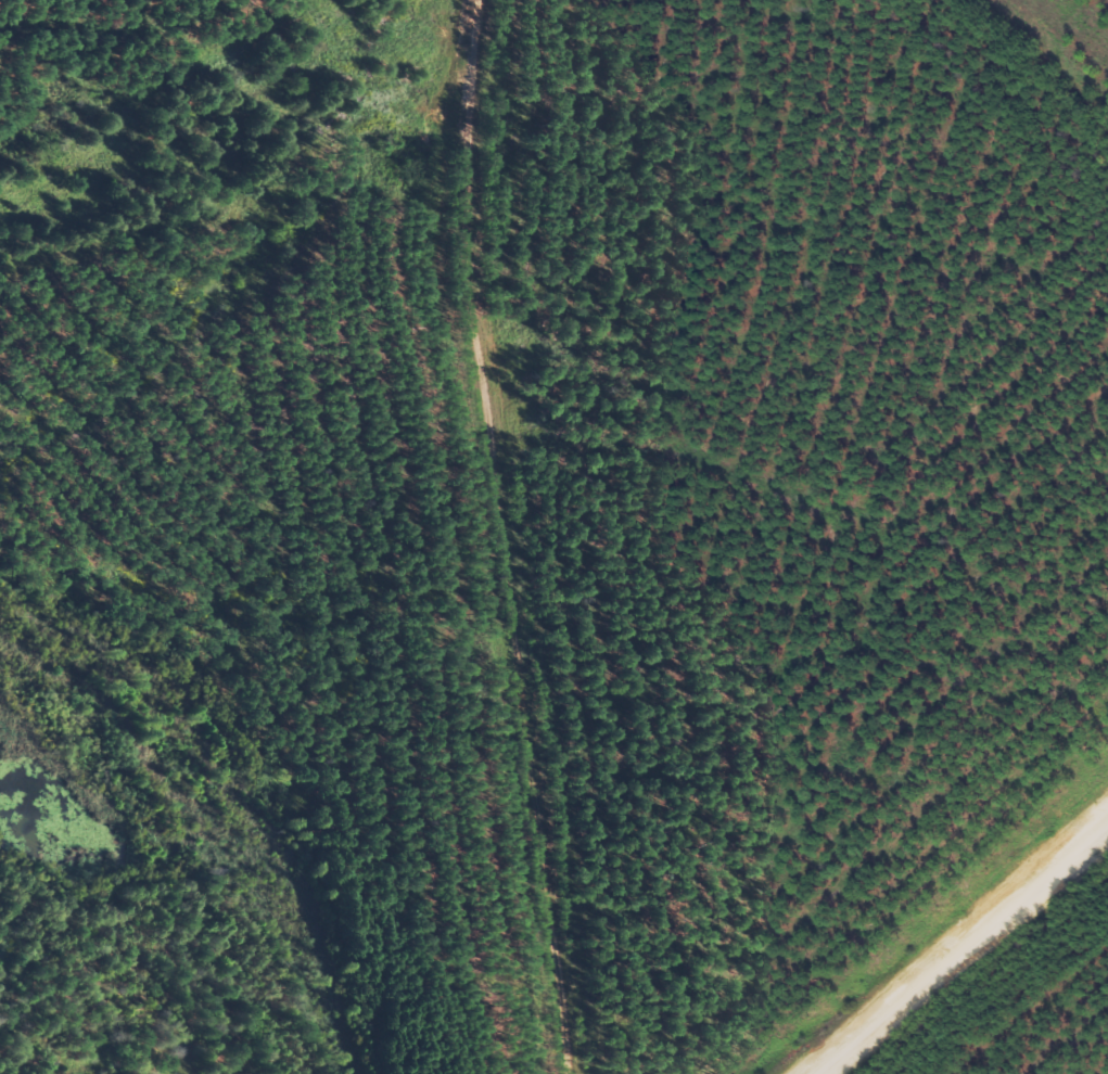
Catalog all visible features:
road: (961, 950)

